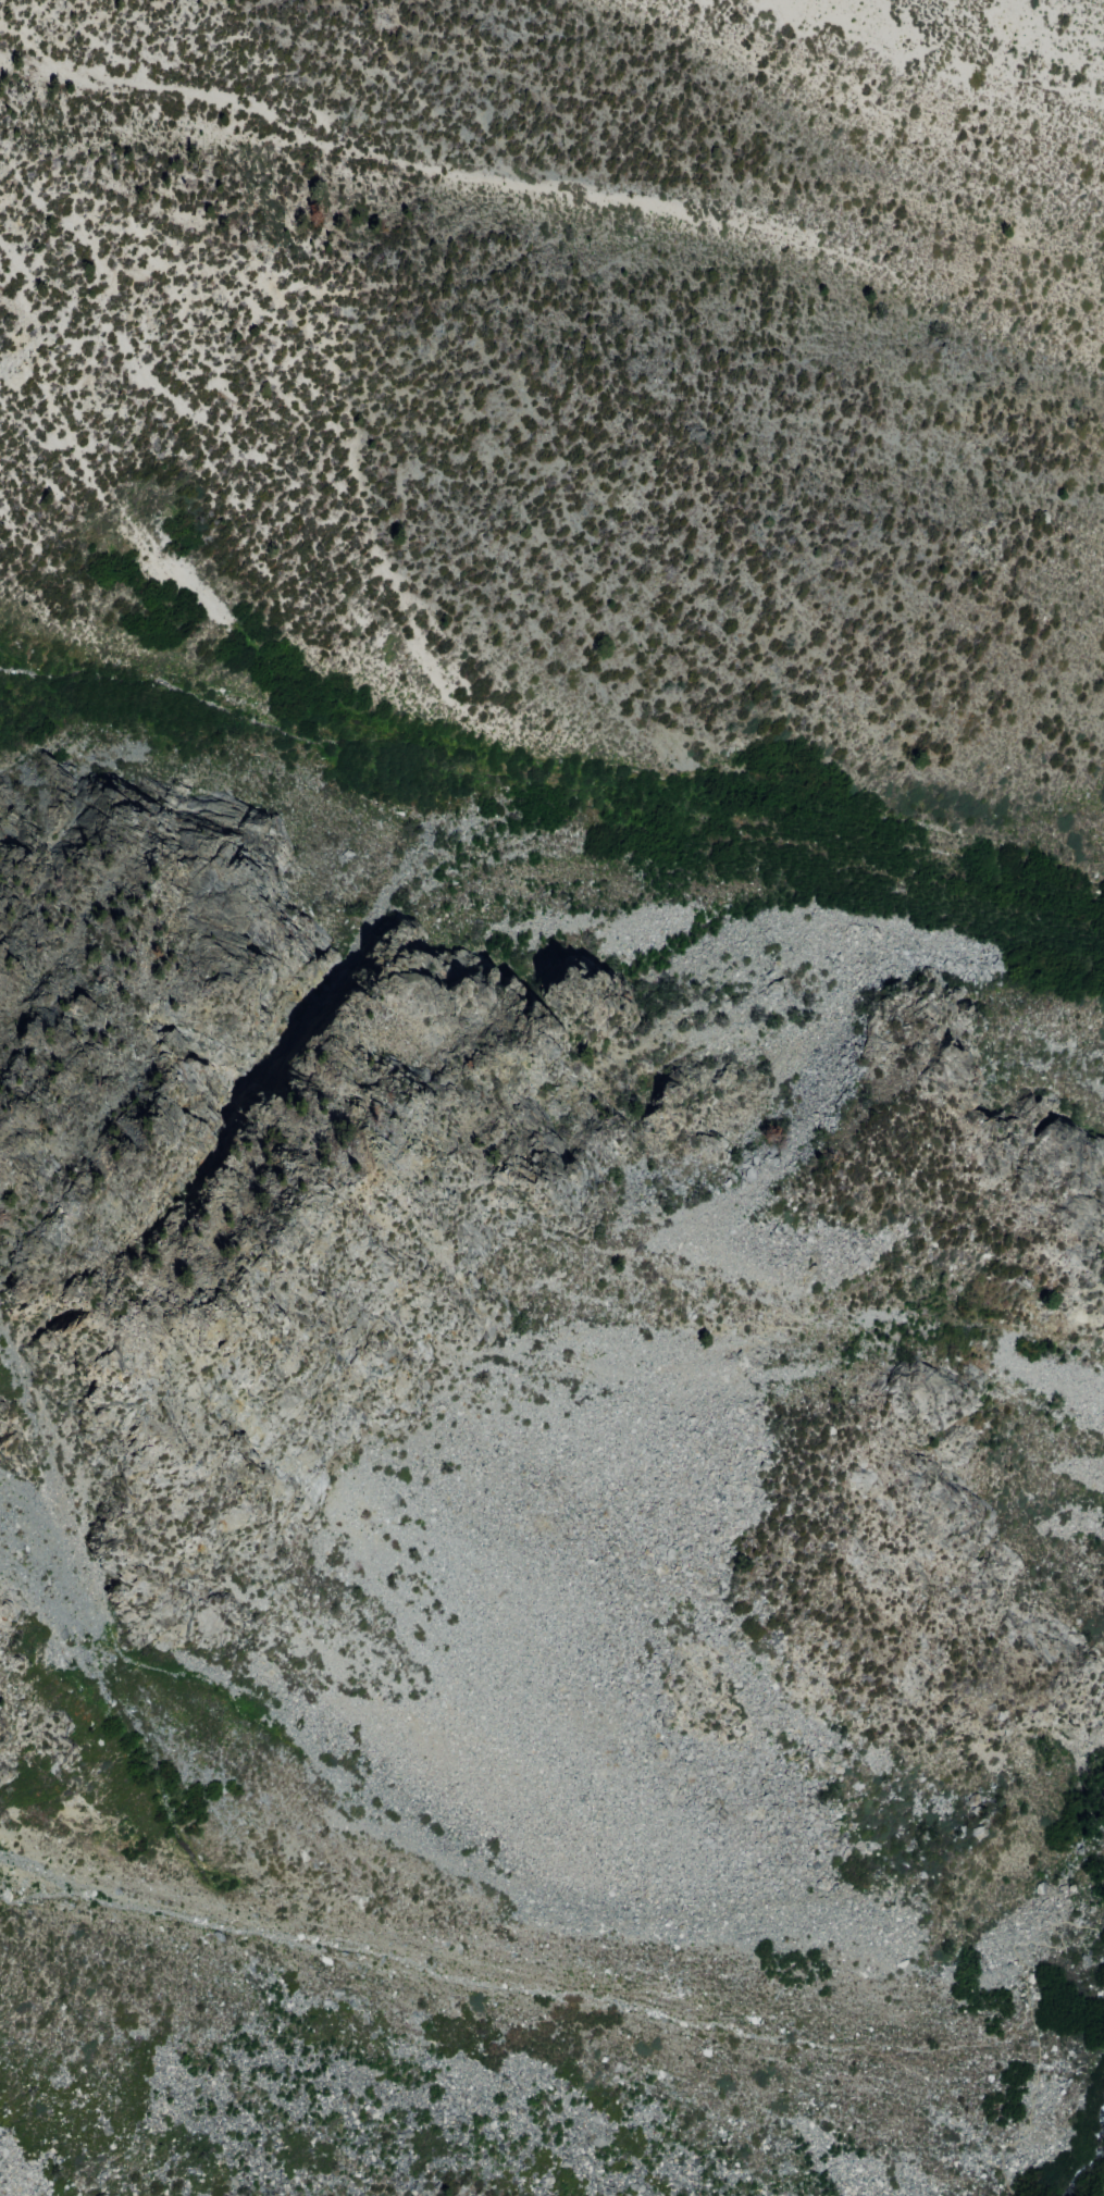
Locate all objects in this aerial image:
road: (1029, 2009)

